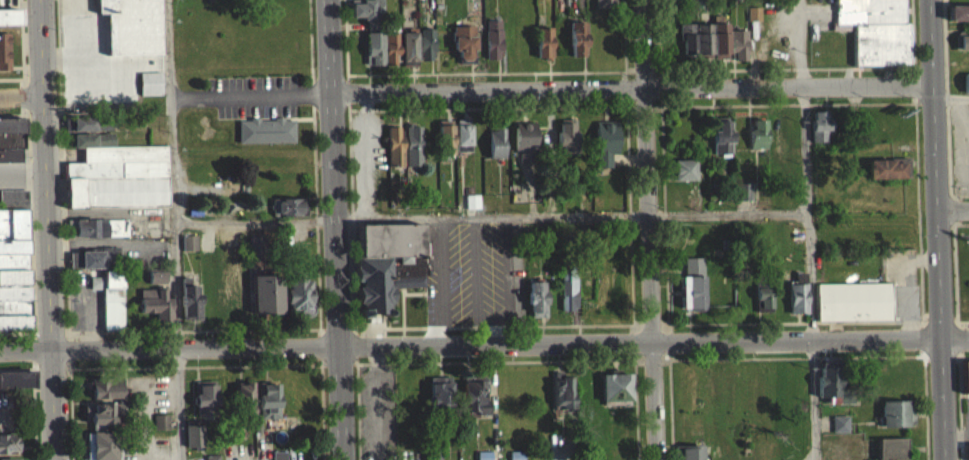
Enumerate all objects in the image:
building: (368, 15)
building: (752, 21)
building: (958, 21)
building: (9, 25)
building: (874, 36)
building: (577, 46)
building: (719, 46)
building: (492, 47)
building: (695, 47)
building: (961, 48)
building: (543, 50)
building: (463, 51)
building: (425, 52)
building: (737, 53)
building: (390, 55)
building: (373, 56)
building: (407, 57)
building: (4, 59)
building: (119, 61)
road: (634, 89)
building: (966, 91)
road: (20, 94)
road: (953, 95)
building: (90, 132)
building: (818, 134)
building: (265, 138)
building: (757, 141)
building: (461, 143)
building: (565, 144)
building: (720, 146)
building: (10, 147)
building: (444, 147)
building: (524, 149)
building: (494, 150)
building: (605, 150)
road: (805, 150)
building: (412, 153)
building: (394, 154)
building: (887, 176)
building: (680, 178)
building: (115, 182)
building: (743, 199)
building: (13, 207)
road: (954, 208)
building: (471, 209)
road: (790, 211)
building: (288, 214)
road: (940, 229)
road: (45, 230)
road: (336, 230)
road: (648, 230)
building: (96, 235)
building: (188, 250)
building: (255, 252)
building: (91, 267)
building: (386, 272)
building: (13, 278)
building: (156, 285)
building: (692, 292)
building: (567, 297)
building: (108, 303)
building: (265, 303)
building: (298, 304)
building: (797, 304)
building: (536, 307)
building: (763, 307)
building: (852, 309)
building: (154, 311)
building: (189, 311)
road: (24, 330)
road: (509, 345)
road: (24, 348)
road: (25, 369)
building: (965, 385)
building: (15, 387)
building: (831, 391)
building: (105, 395)
building: (615, 395)
building: (561, 398)
building: (439, 399)
road: (812, 400)
road: (179, 403)
building: (475, 404)
building: (205, 406)
building: (243, 406)
building: (268, 409)
building: (101, 420)
building: (895, 421)
building: (160, 430)
building: (839, 431)
building: (193, 444)
building: (101, 449)
building: (8, 451)
building: (890, 453)
building: (687, 456)
building: (278, 459)

